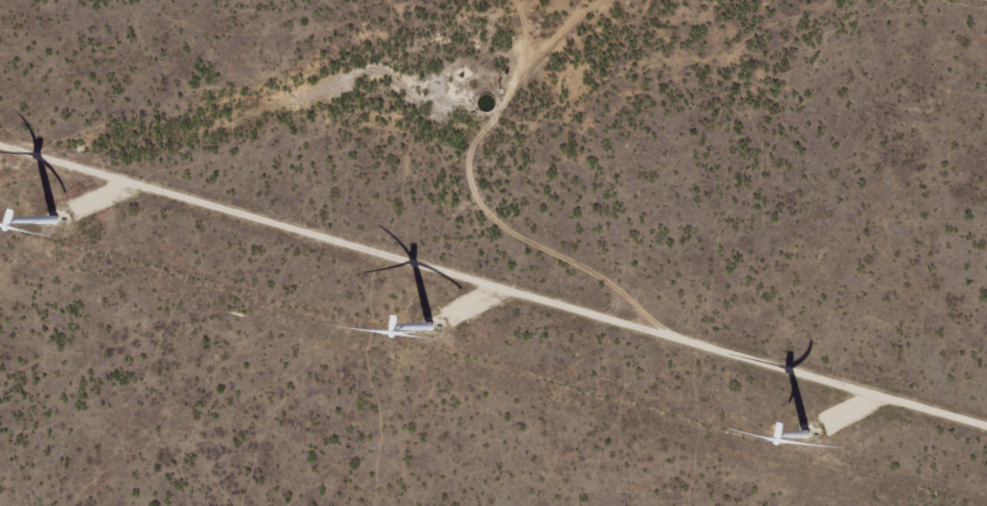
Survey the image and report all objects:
road: (544, 26)
wind turbine: (91, 217)
road: (644, 301)
wind turbine: (465, 332)
wind turbine: (805, 429)

